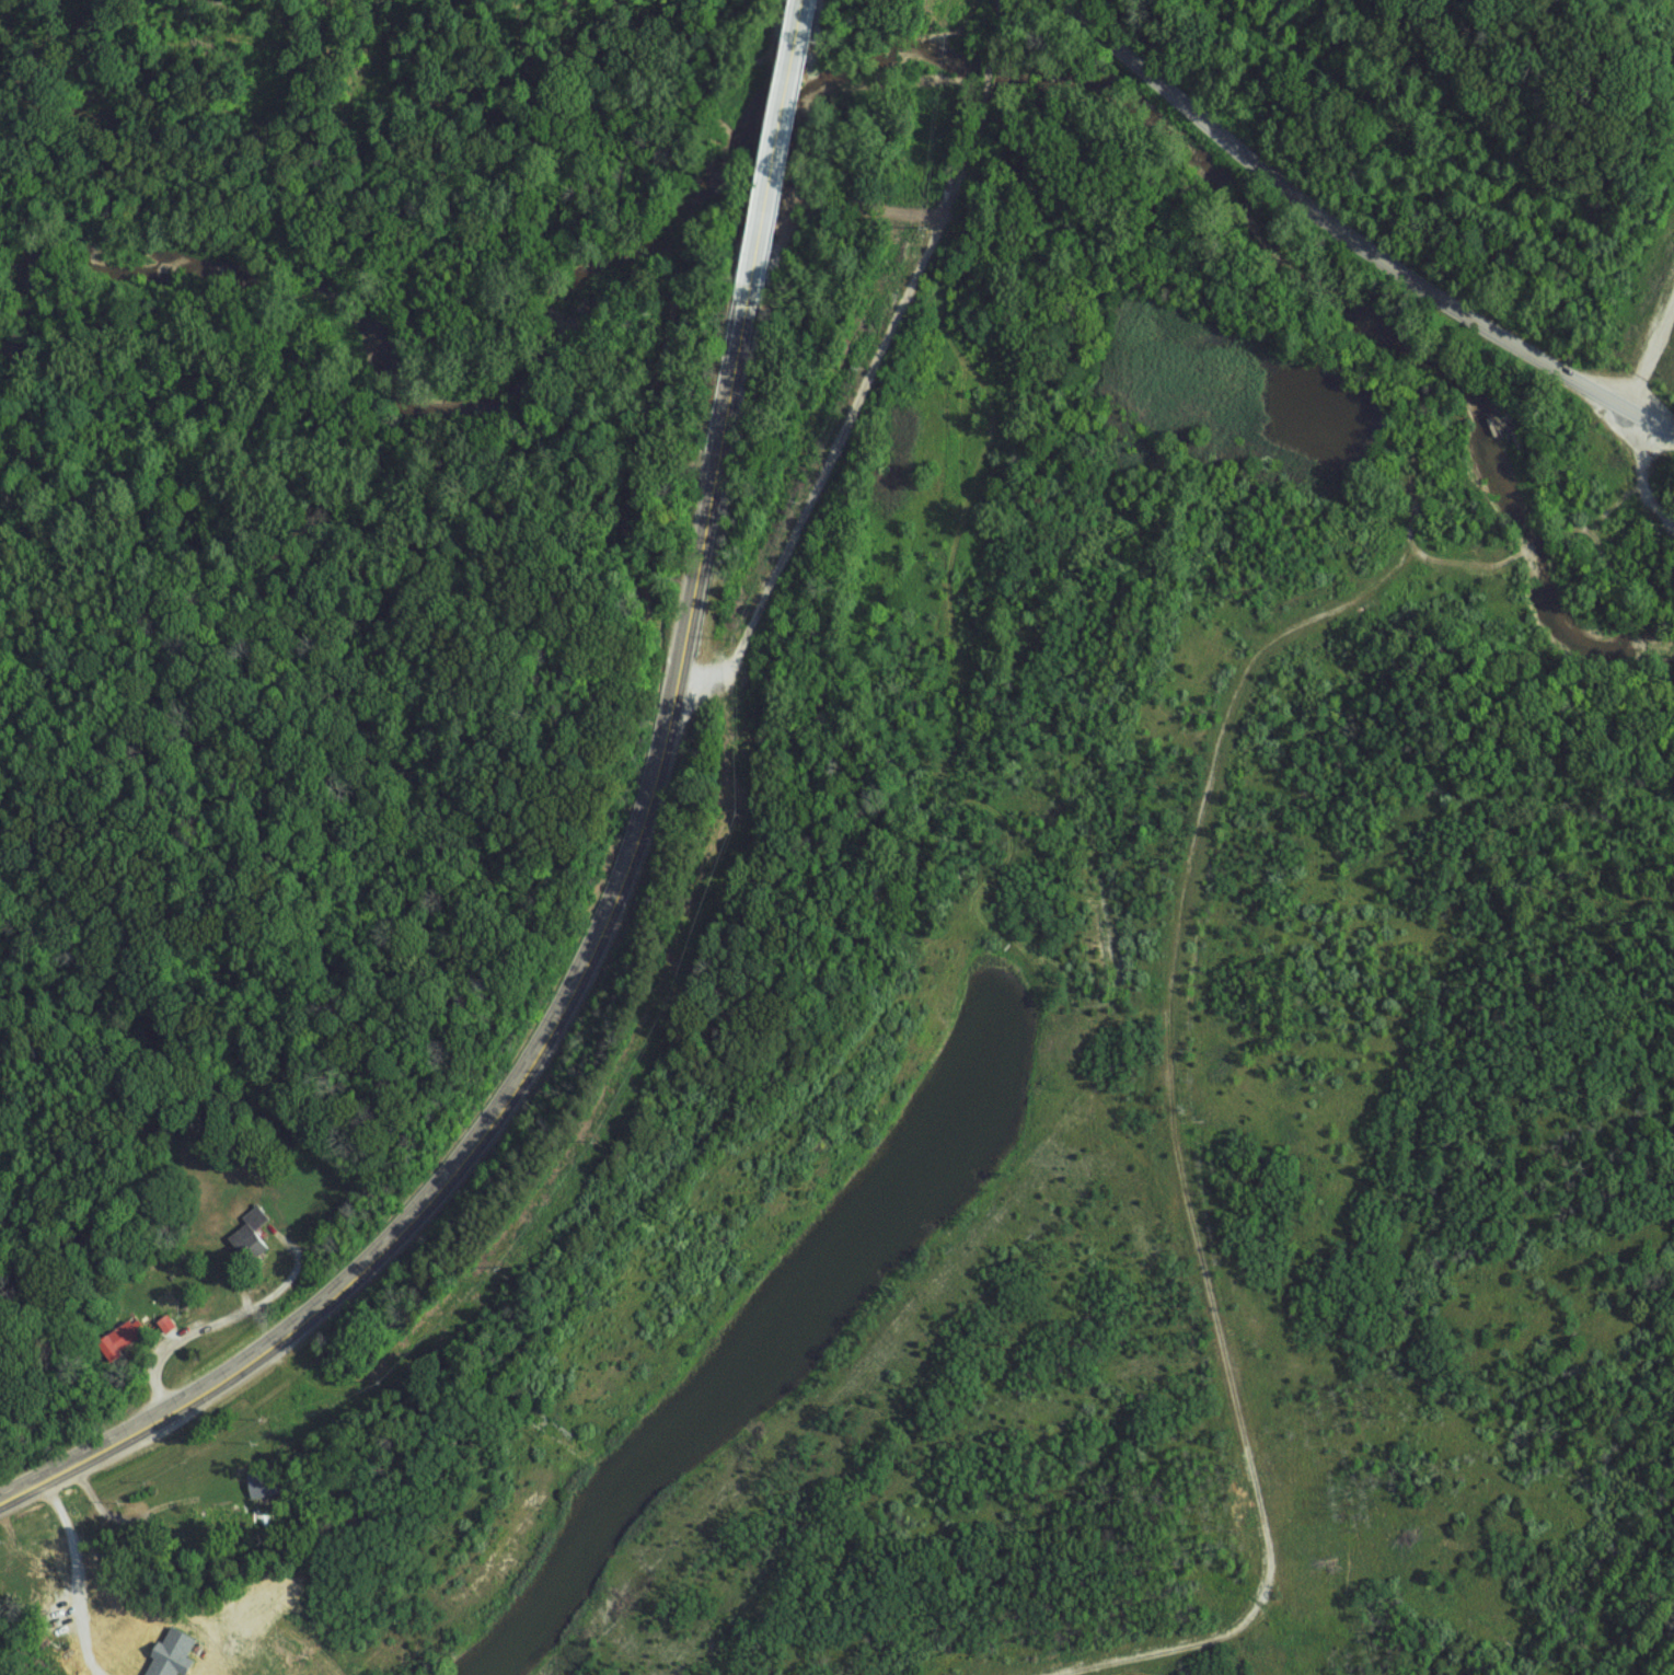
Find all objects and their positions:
road: (1339, 223)
road: (873, 377)
road: (1656, 421)
road: (1646, 470)
road: (619, 881)
building: (250, 1234)
road: (215, 1325)
building: (120, 1338)
road: (1270, 1551)
building: (172, 1654)

